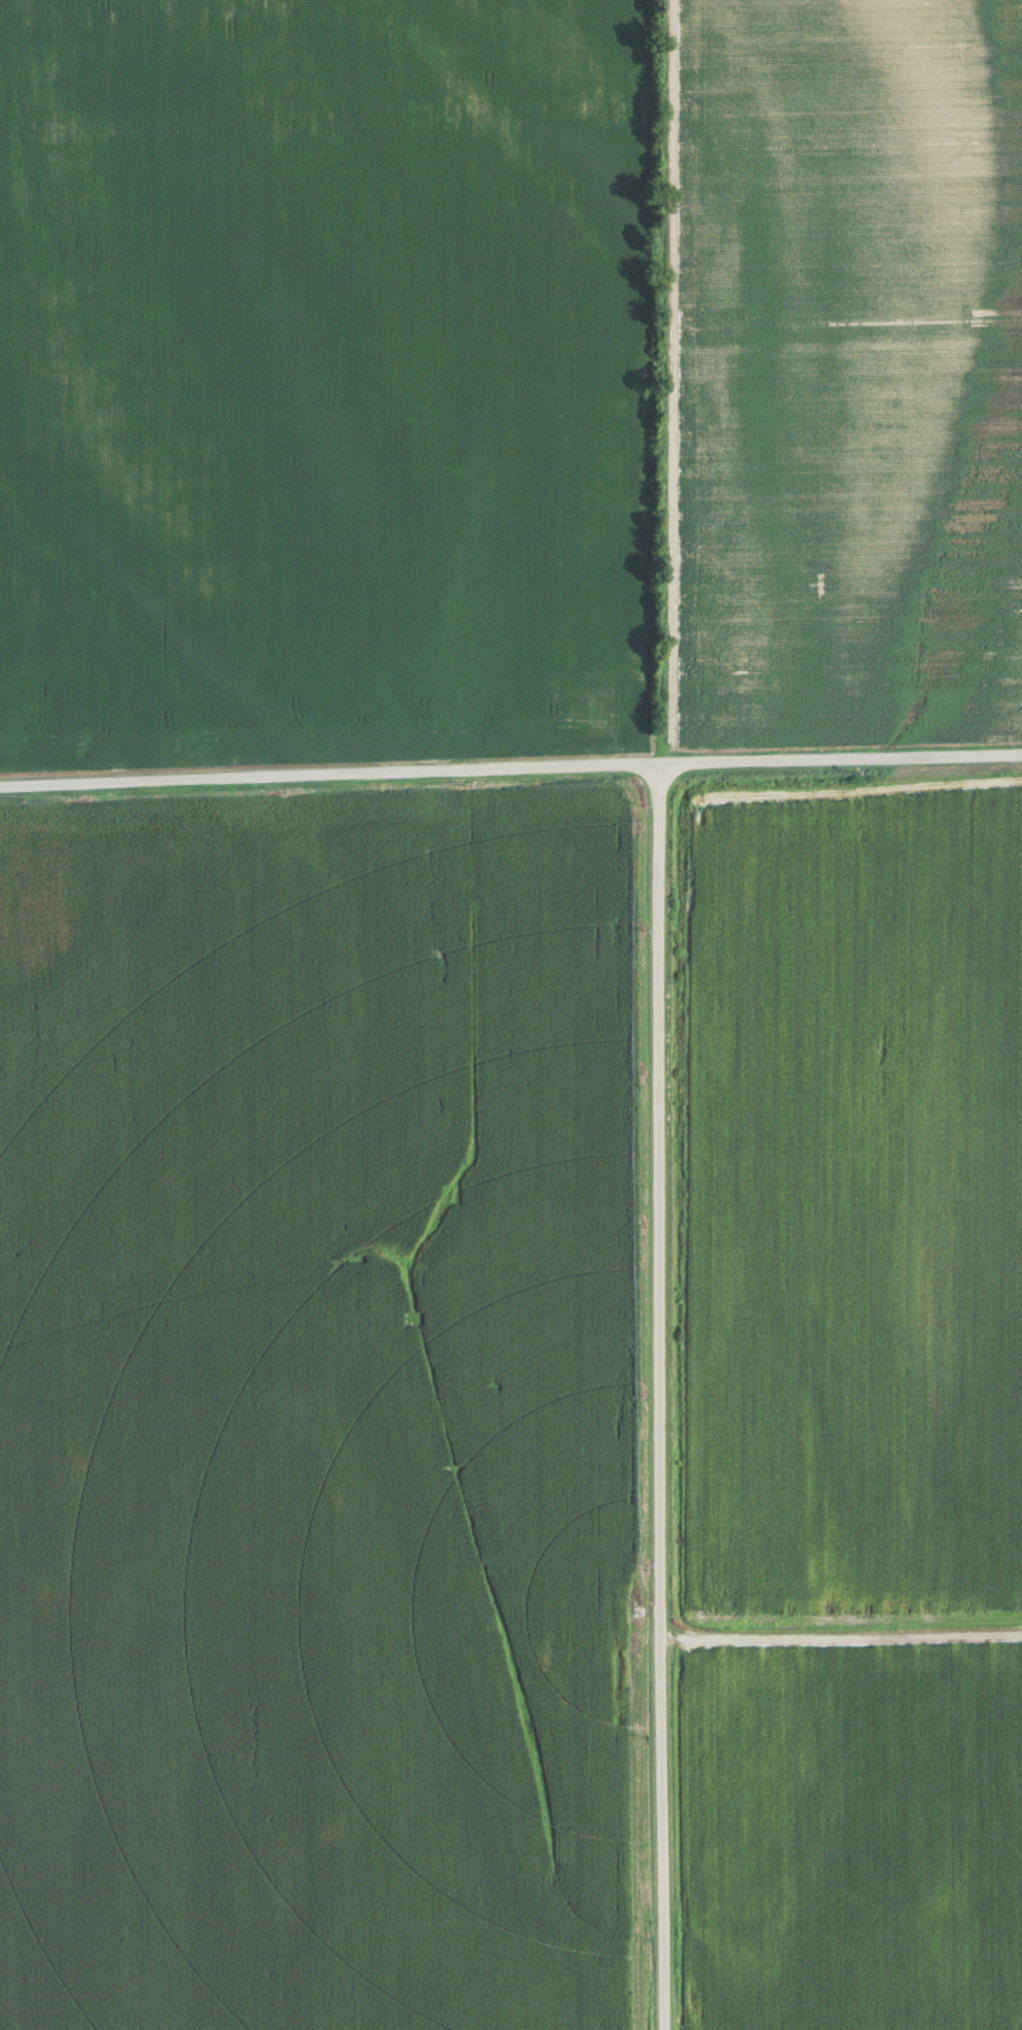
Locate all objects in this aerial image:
road: (510, 765)
road: (659, 1395)

